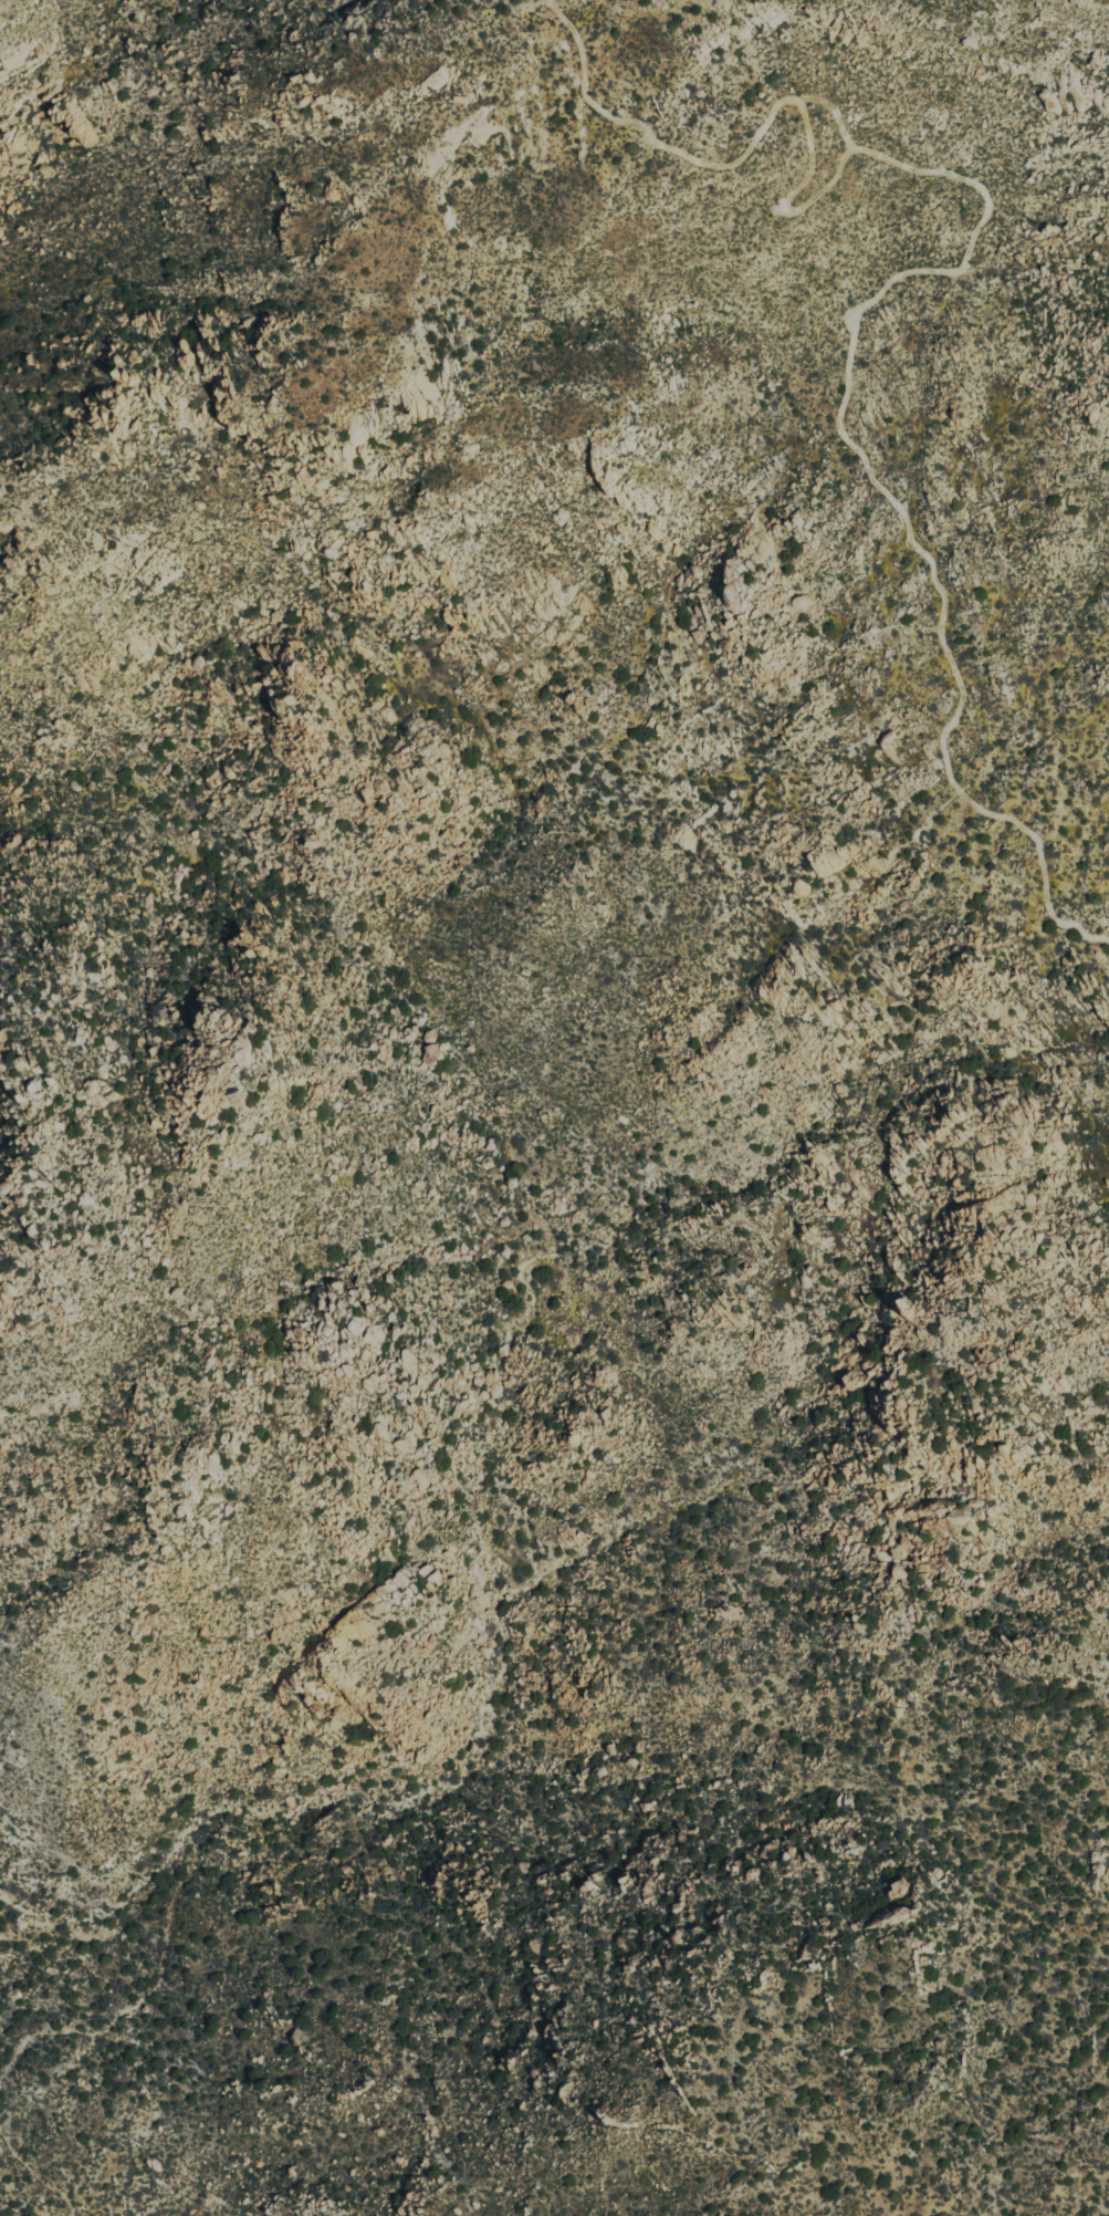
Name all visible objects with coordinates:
road: (921, 269)
road: (167, 1896)
road: (34, 2179)

